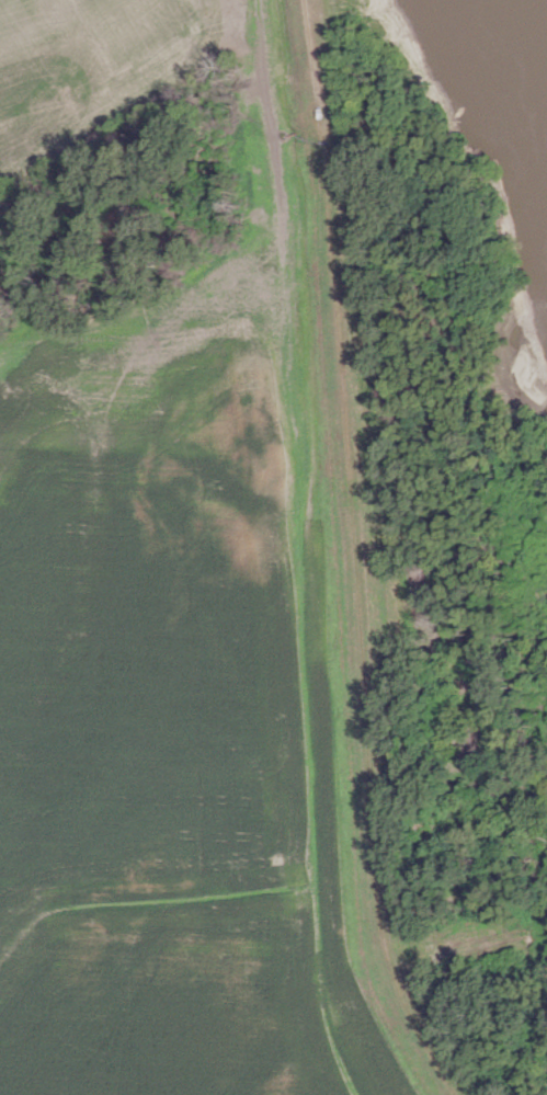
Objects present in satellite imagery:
crop: (102, 59)
road: (355, 555)
crop: (171, 704)

